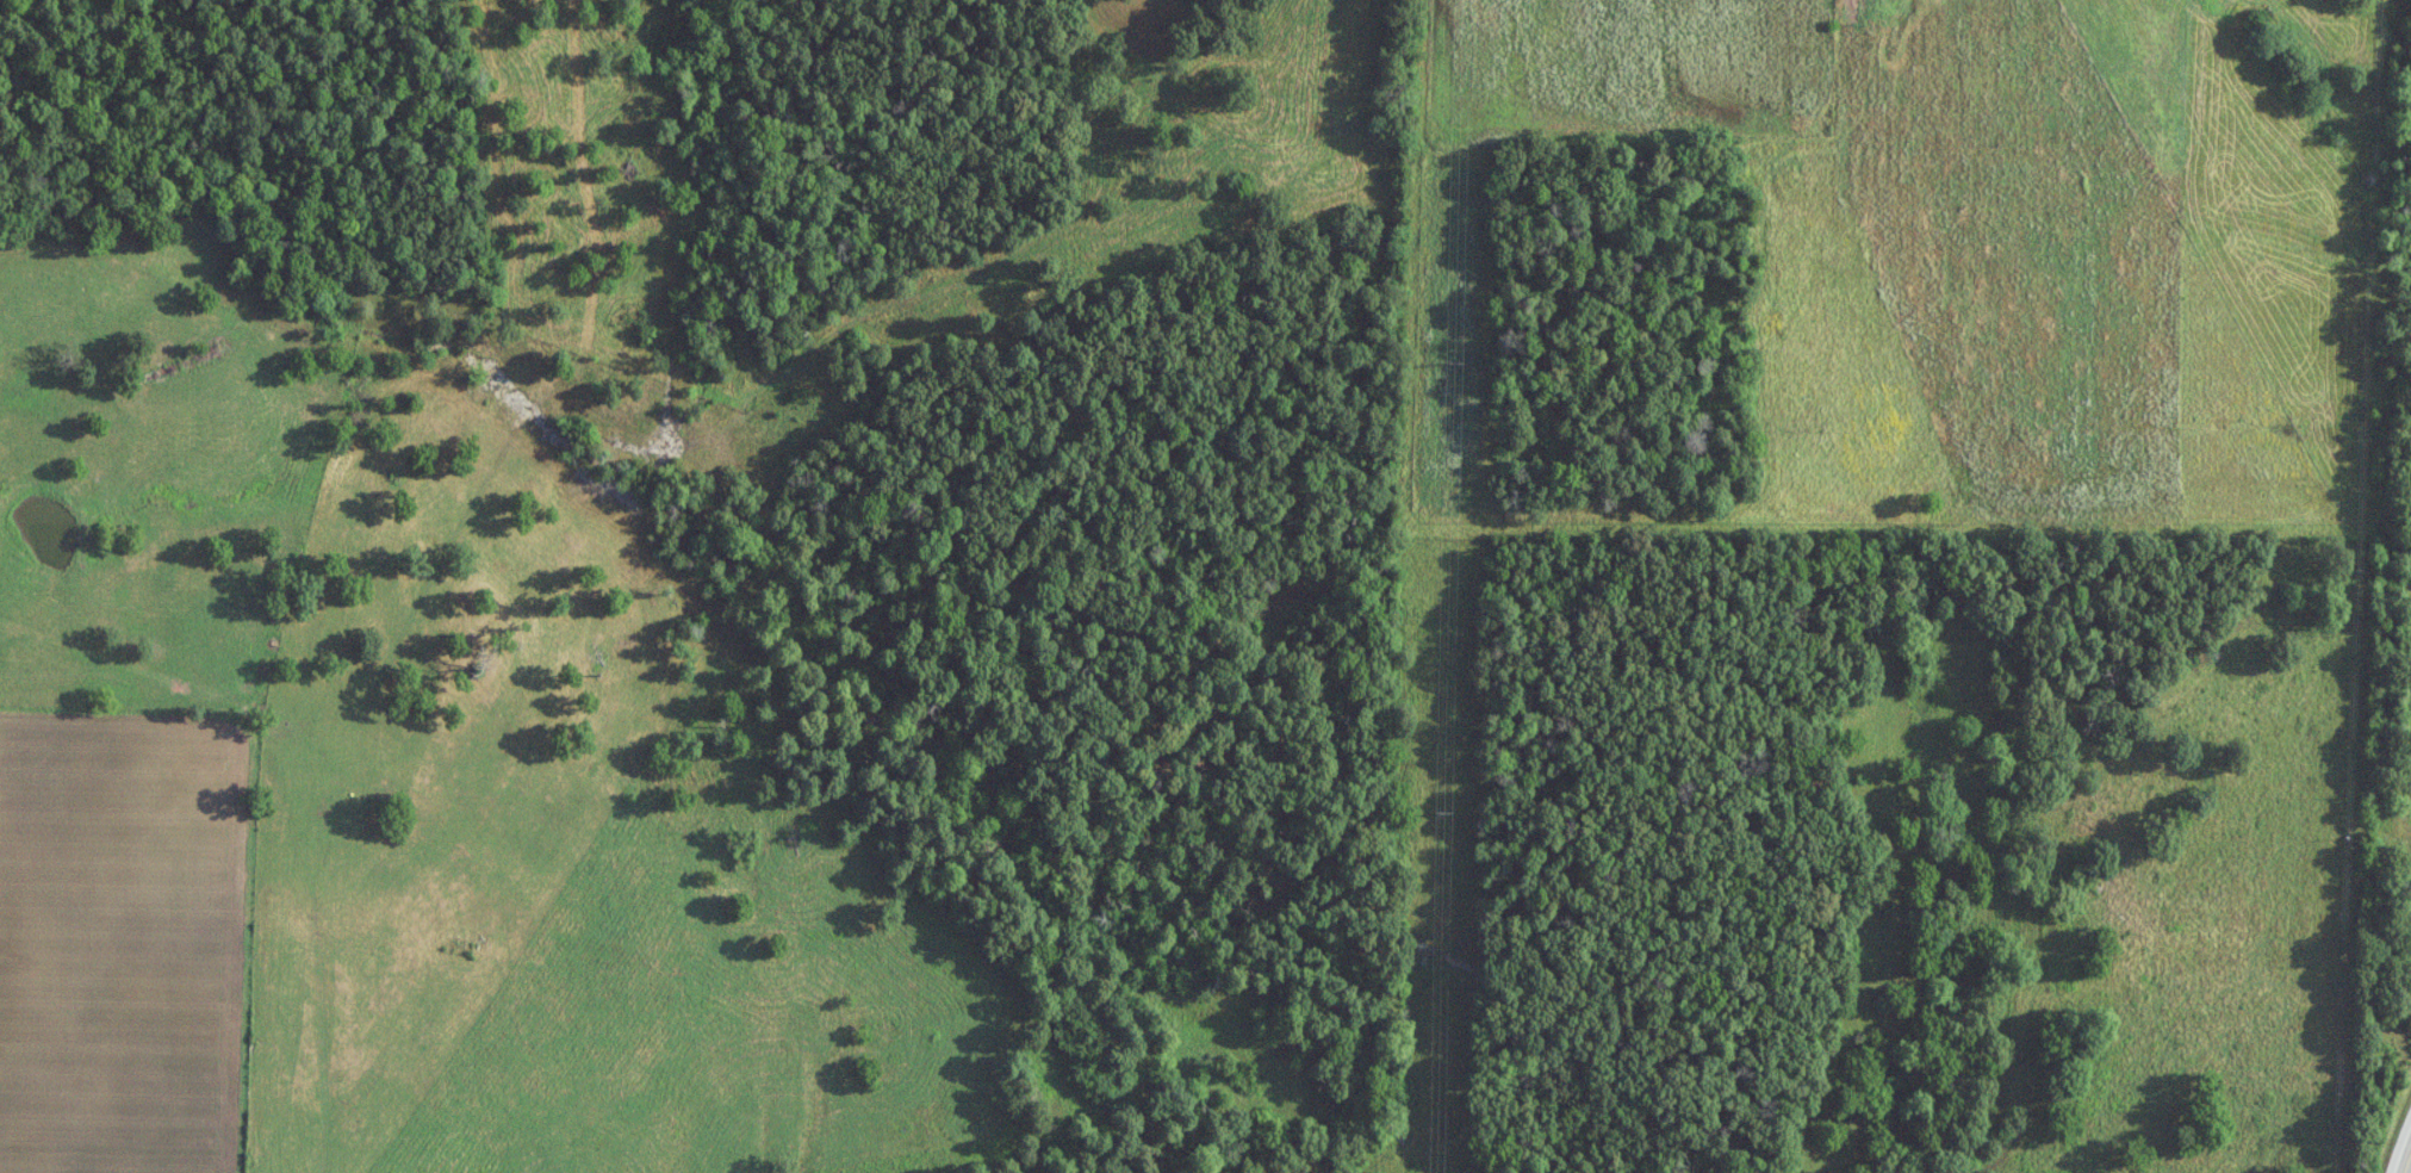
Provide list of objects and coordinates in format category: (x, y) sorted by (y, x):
road: (2410, 1168)

